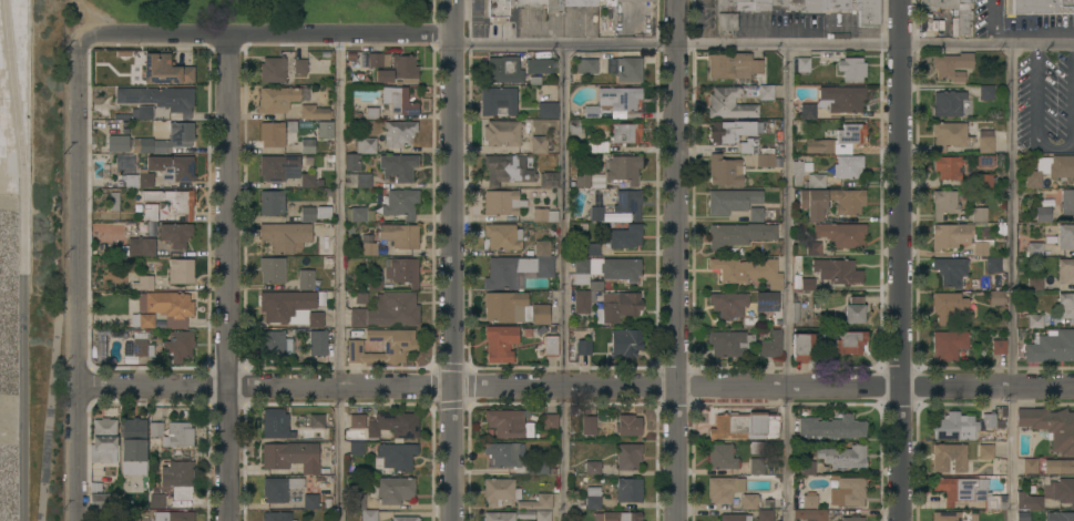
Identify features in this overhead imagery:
building: (634, 0)
building: (580, 2)
building: (605, 2)
building: (554, 4)
building: (745, 4)
building: (763, 4)
building: (779, 4)
building: (796, 4)
building: (814, 4)
building: (841, 4)
building: (941, 7)
building: (1040, 7)
building: (507, 8)
building: (868, 12)
building: (725, 13)
building: (963, 16)
road: (451, 18)
road: (992, 22)
road: (265, 35)
road: (763, 44)
building: (378, 60)
building: (801, 64)
building: (300, 65)
building: (539, 65)
building: (586, 65)
building: (733, 65)
building: (952, 65)
building: (628, 69)
building: (852, 69)
building: (165, 70)
building: (273, 70)
building: (399, 70)
building: (503, 70)
building: (766, 92)
building: (985, 92)
building: (160, 98)
building: (277, 99)
building: (399, 100)
building: (618, 100)
building: (835, 100)
building: (499, 101)
building: (729, 103)
building: (948, 103)
building: (546, 110)
building: (145, 112)
building: (314, 112)
building: (591, 112)
building: (371, 113)
road: (1035, 116)
building: (574, 126)
building: (325, 129)
building: (733, 130)
building: (398, 132)
building: (272, 133)
building: (502, 133)
building: (625, 133)
building: (181, 134)
building: (949, 134)
building: (838, 140)
building: (985, 141)
building: (135, 144)
building: (539, 144)
building: (307, 145)
building: (366, 145)
building: (596, 146)
building: (748, 151)
building: (351, 161)
building: (985, 161)
building: (276, 166)
building: (398, 166)
building: (848, 166)
building: (947, 166)
building: (172, 167)
building: (509, 168)
building: (622, 168)
building: (1050, 168)
building: (725, 170)
building: (797, 172)
building: (145, 180)
building: (307, 180)
building: (356, 180)
building: (549, 180)
building: (583, 180)
building: (984, 180)
building: (815, 181)
building: (114, 201)
building: (173, 201)
building: (732, 201)
building: (502, 202)
building: (1066, 202)
building: (272, 203)
building: (628, 203)
building: (943, 203)
building: (400, 204)
building: (849, 205)
building: (151, 212)
building: (324, 212)
building: (596, 213)
building: (307, 214)
building: (358, 214)
building: (543, 214)
building: (756, 214)
building: (979, 214)
building: (1043, 214)
building: (175, 234)
building: (738, 234)
building: (841, 234)
building: (399, 235)
building: (285, 236)
building: (503, 236)
building: (625, 236)
building: (1066, 236)
building: (955, 237)
building: (141, 246)
building: (369, 248)
building: (542, 248)
building: (592, 248)
building: (812, 248)
building: (1034, 248)
road: (27, 259)
road: (678, 259)
road: (902, 259)
building: (993, 265)
building: (544, 266)
building: (275, 269)
building: (604, 269)
building: (181, 270)
building: (402, 270)
building: (747, 270)
building: (949, 270)
building: (1066, 270)
building: (505, 272)
building: (837, 272)
road: (453, 277)
road: (79, 278)
road: (226, 278)
road: (339, 278)
building: (306, 279)
building: (372, 279)
building: (142, 283)
road: (563, 283)
road: (789, 283)
road: (1012, 283)
building: (807, 284)
building: (1034, 284)
building: (360, 297)
building: (995, 297)
building: (583, 300)
building: (770, 304)
building: (1065, 305)
building: (617, 306)
building: (947, 306)
building: (167, 307)
building: (290, 307)
building: (507, 307)
building: (732, 307)
building: (388, 310)
building: (855, 310)
building: (540, 314)
building: (143, 320)
building: (1035, 320)
building: (314, 341)
building: (625, 341)
building: (849, 341)
building: (272, 343)
building: (500, 343)
building: (729, 343)
building: (137, 345)
building: (399, 345)
building: (771, 345)
building: (948, 345)
building: (178, 346)
building: (551, 346)
building: (583, 347)
building: (804, 347)
building: (999, 347)
building: (1052, 347)
building: (100, 348)
road: (576, 387)
road: (53, 405)
building: (311, 420)
building: (550, 420)
building: (357, 421)
building: (276, 423)
building: (509, 423)
building: (393, 425)
building: (589, 425)
building: (628, 425)
building: (745, 426)
building: (962, 427)
building: (1051, 427)
building: (830, 428)
building: (156, 429)
building: (178, 435)
building: (104, 440)
building: (134, 446)
building: (356, 448)
building: (985, 451)
building: (505, 453)
building: (397, 454)
building: (291, 456)
building: (628, 456)
building: (720, 457)
building: (843, 457)
building: (948, 458)
building: (756, 466)
building: (1030, 466)
building: (539, 467)
building: (1058, 467)
building: (593, 468)
building: (808, 468)
building: (178, 478)
building: (279, 488)
building: (392, 489)
building: (724, 489)
building: (628, 490)
building: (499, 491)
building: (848, 492)
building: (968, 492)
building: (1047, 494)
building: (593, 498)
building: (809, 500)
building: (100, 501)
building: (156, 501)
building: (355, 501)
building: (749, 501)
building: (311, 502)
building: (536, 502)
building: (524, 514)
building: (543, 514)
building: (765, 514)
building: (810, 514)
building: (173, 515)
building: (369, 515)
building: (945, 515)
building: (276, 517)
building: (499, 517)
building: (617, 517)
building: (1023, 517)
building: (1060, 517)
building: (735, 518)
building: (405, 519)
building: (852, 519)

